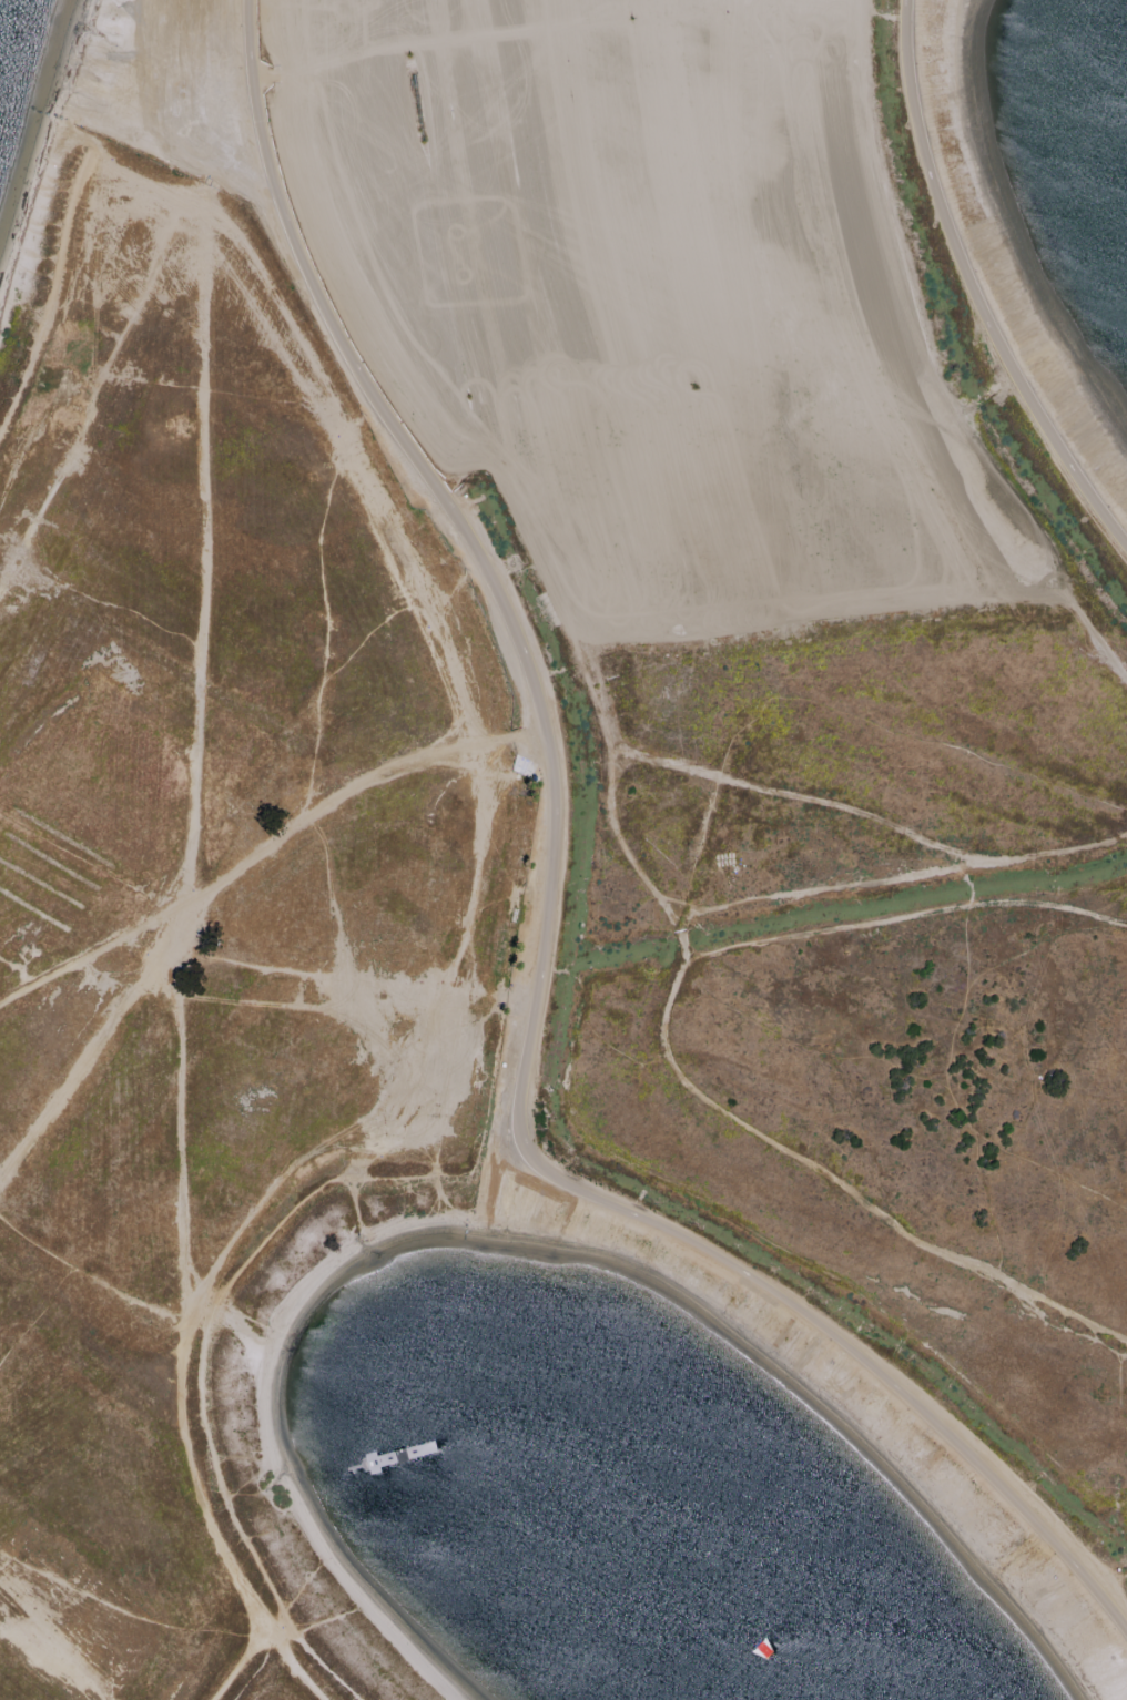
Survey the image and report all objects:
road: (149, 120)
road: (973, 288)
road: (85, 381)
road: (27, 441)
road: (826, 613)
road: (328, 628)
road: (195, 701)
road: (484, 768)
park: (542, 770)
road: (319, 812)
road: (1047, 845)
road: (753, 900)
road: (332, 914)
road: (904, 914)
road: (689, 915)
road: (547, 930)
road: (1040, 944)
road: (87, 957)
road: (18, 971)
road: (674, 985)
road: (316, 1011)
road: (802, 1041)
road: (369, 1057)
road: (179, 1147)
road: (984, 1202)
road: (92, 1279)
road: (1121, 1386)
road: (241, 1666)

